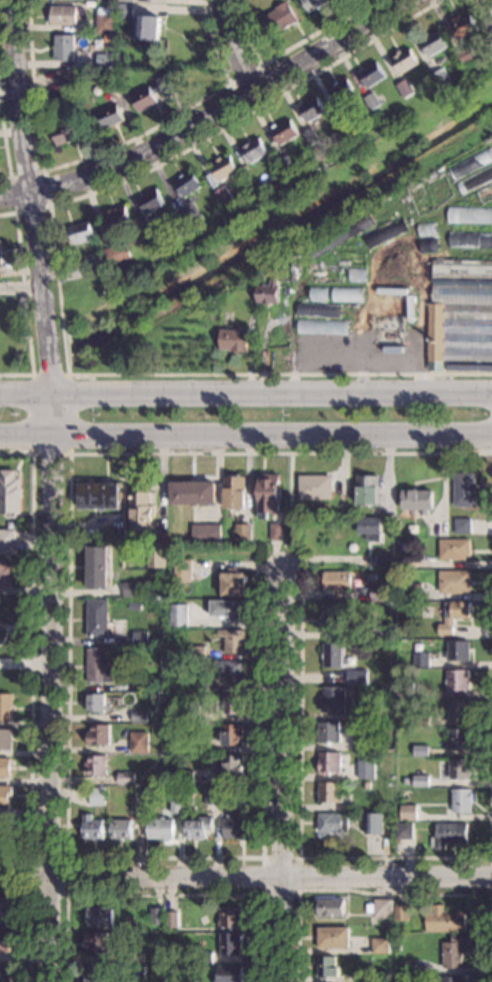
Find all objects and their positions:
building: (126, 0)
building: (89, 3)
building: (110, 3)
building: (314, 4)
building: (126, 11)
building: (63, 15)
building: (280, 18)
building: (106, 20)
building: (463, 26)
building: (149, 27)
building: (489, 36)
building: (435, 43)
building: (101, 45)
road: (230, 47)
building: (64, 48)
road: (286, 50)
building: (466, 56)
building: (105, 59)
building: (405, 59)
building: (373, 74)
building: (66, 76)
building: (442, 78)
road: (230, 82)
building: (113, 84)
building: (406, 88)
building: (342, 92)
building: (152, 93)
building: (375, 100)
building: (312, 109)
building: (110, 116)
road: (208, 118)
building: (351, 126)
building: (285, 131)
building: (66, 132)
building: (311, 136)
road: (5, 147)
road: (103, 150)
building: (255, 150)
building: (286, 160)
building: (478, 160)
building: (224, 167)
road: (45, 170)
building: (477, 180)
building: (189, 184)
building: (275, 187)
building: (485, 194)
road: (31, 195)
building: (224, 196)
building: (152, 201)
building: (189, 213)
building: (470, 215)
building: (117, 217)
building: (81, 232)
building: (387, 233)
building: (340, 236)
building: (471, 239)
building: (0, 253)
building: (118, 254)
building: (157, 256)
building: (349, 259)
building: (93, 261)
building: (290, 261)
building: (403, 267)
building: (463, 270)
building: (4, 271)
building: (316, 272)
building: (356, 274)
road: (58, 280)
road: (20, 288)
building: (268, 292)
building: (319, 293)
building: (348, 294)
road: (25, 301)
building: (319, 310)
building: (460, 325)
building: (346, 326)
building: (389, 329)
building: (316, 330)
building: (234, 340)
river: (35, 380)
road: (23, 391)
road: (269, 392)
road: (47, 416)
road: (269, 438)
road: (22, 439)
road: (69, 453)
building: (314, 487)
building: (464, 489)
building: (367, 490)
building: (10, 493)
building: (193, 493)
building: (234, 493)
building: (268, 494)
building: (98, 496)
building: (417, 500)
building: (141, 511)
building: (343, 511)
building: (461, 525)
building: (442, 527)
building: (369, 528)
building: (275, 531)
building: (205, 532)
building: (242, 532)
building: (7, 542)
building: (453, 549)
building: (387, 551)
building: (156, 555)
building: (383, 558)
building: (406, 560)
building: (97, 567)
building: (182, 570)
building: (4, 574)
building: (336, 580)
building: (453, 581)
building: (233, 583)
building: (130, 589)
building: (412, 590)
building: (378, 593)
building: (133, 606)
building: (228, 610)
building: (178, 615)
building: (452, 615)
building: (331, 617)
building: (96, 618)
building: (380, 632)
building: (139, 638)
building: (233, 640)
building: (195, 650)
building: (173, 651)
building: (457, 651)
building: (332, 654)
building: (420, 660)
road: (45, 661)
building: (97, 666)
road: (68, 671)
building: (230, 671)
building: (357, 676)
building: (457, 679)
building: (202, 681)
building: (139, 682)
building: (404, 689)
building: (334, 699)
road: (31, 701)
building: (94, 702)
building: (233, 704)
building: (6, 707)
building: (458, 709)
building: (191, 712)
building: (375, 713)
building: (138, 716)
building: (420, 720)
building: (328, 732)
building: (232, 734)
building: (97, 735)
building: (5, 739)
building: (458, 739)
building: (138, 742)
building: (375, 742)
building: (360, 743)
building: (200, 744)
building: (420, 750)
building: (329, 762)
building: (94, 765)
building: (230, 766)
building: (5, 767)
building: (459, 768)
building: (366, 769)
building: (185, 776)
road: (280, 777)
building: (125, 778)
building: (405, 781)
building: (420, 781)
building: (367, 785)
building: (329, 792)
building: (5, 796)
building: (97, 796)
building: (212, 797)
building: (461, 800)
building: (176, 804)
building: (138, 805)
building: (230, 806)
building: (407, 812)
building: (331, 822)
building: (372, 823)
building: (92, 827)
building: (197, 827)
building: (159, 828)
building: (120, 829)
building: (235, 829)
building: (404, 830)
building: (4, 834)
building: (448, 834)
road: (311, 858)
road: (263, 860)
road: (66, 876)
road: (490, 877)
road: (268, 878)
road: (391, 894)
road: (164, 896)
building: (330, 907)
building: (380, 907)
building: (5, 911)
building: (401, 912)
building: (156, 915)
building: (98, 916)
building: (230, 917)
building: (171, 920)
building: (445, 920)
road: (44, 932)
building: (332, 937)
building: (5, 941)
building: (96, 941)
building: (230, 943)
building: (380, 945)
building: (454, 951)
building: (131, 957)
building: (204, 957)
building: (326, 966)
building: (4, 973)
building: (228, 973)
building: (96, 974)
building: (365, 976)
building: (450, 979)
building: (126, 981)
building: (187, 981)

